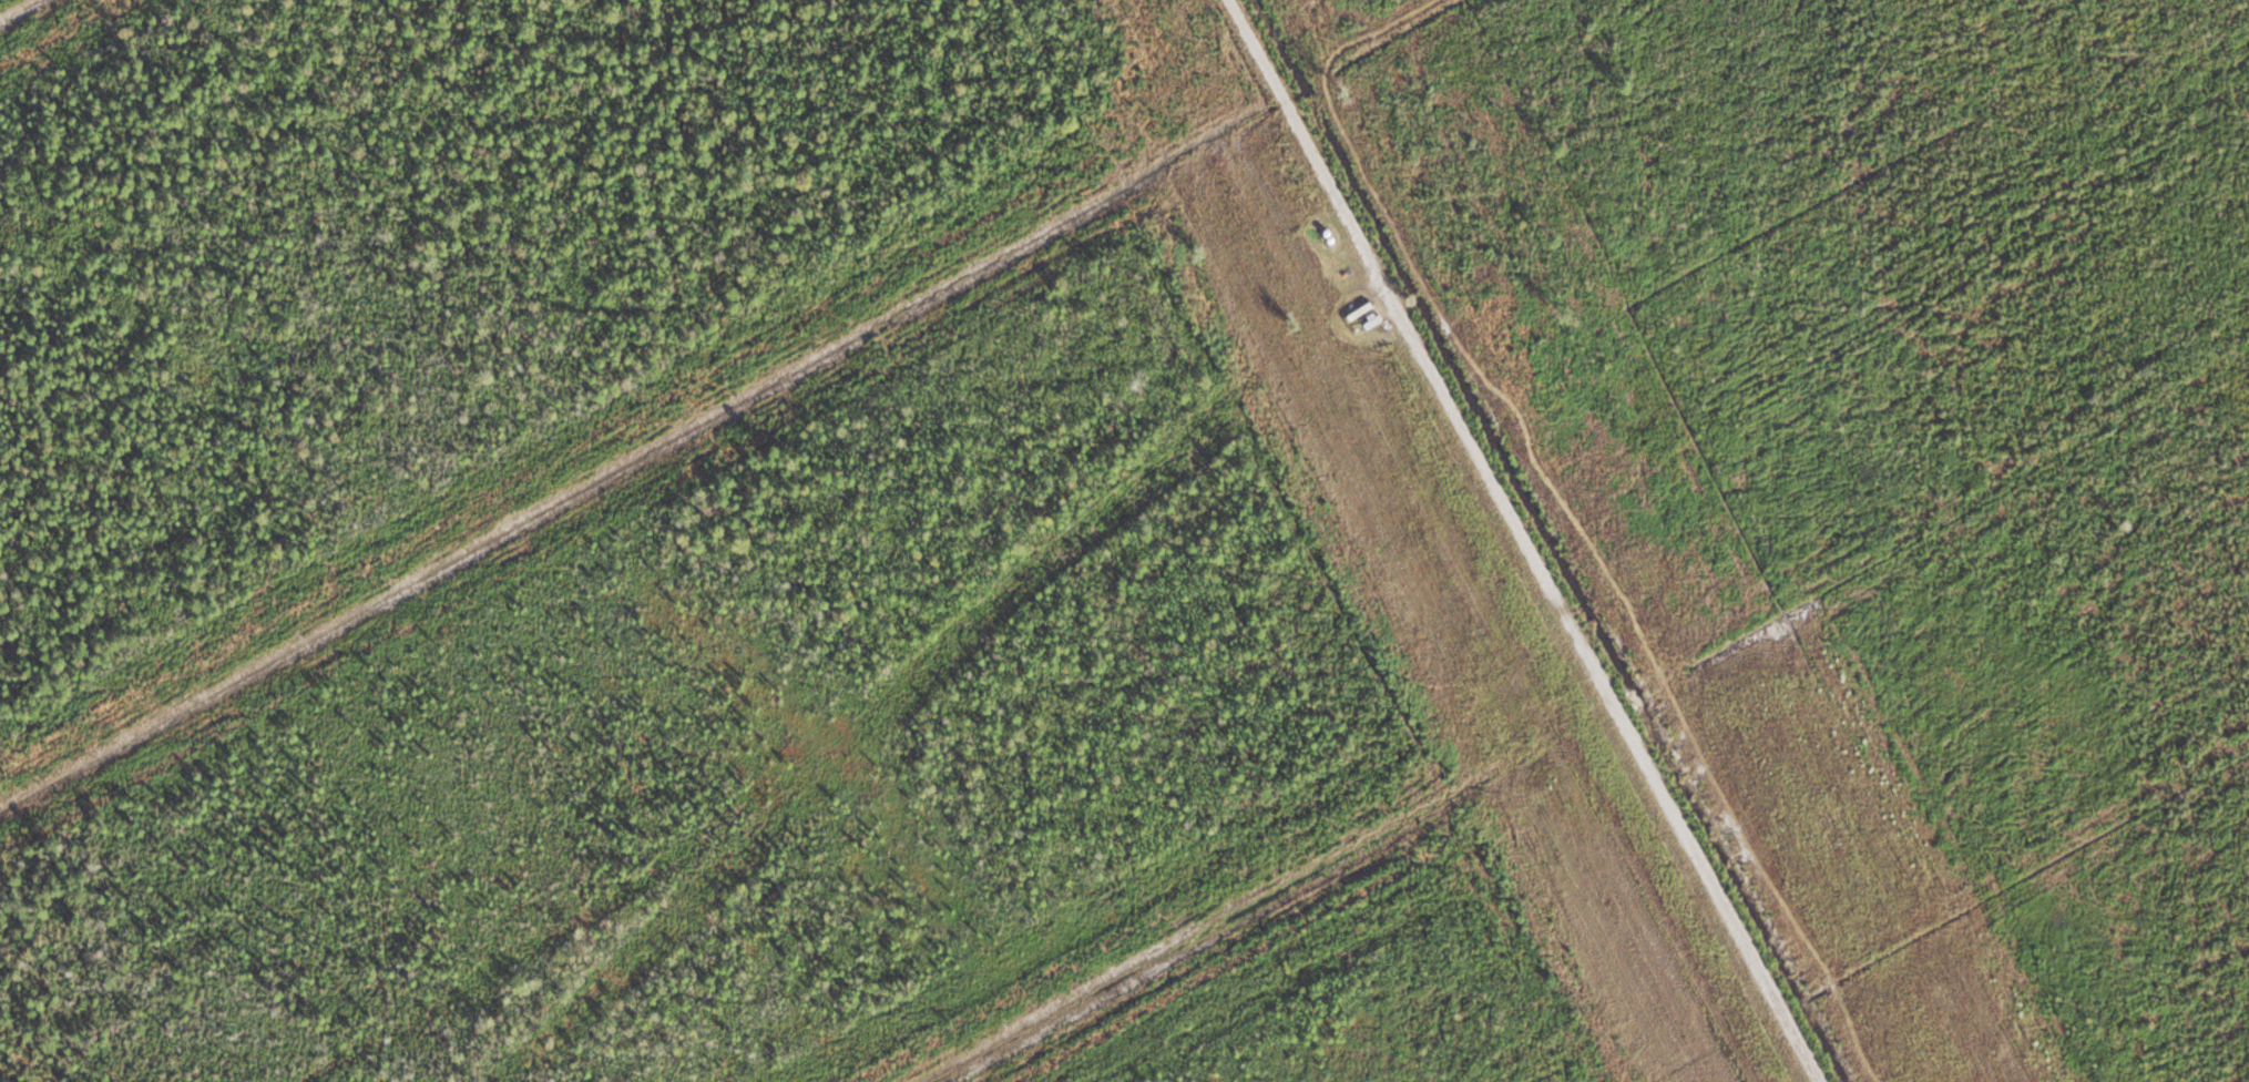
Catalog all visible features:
road: (1453, 552)

